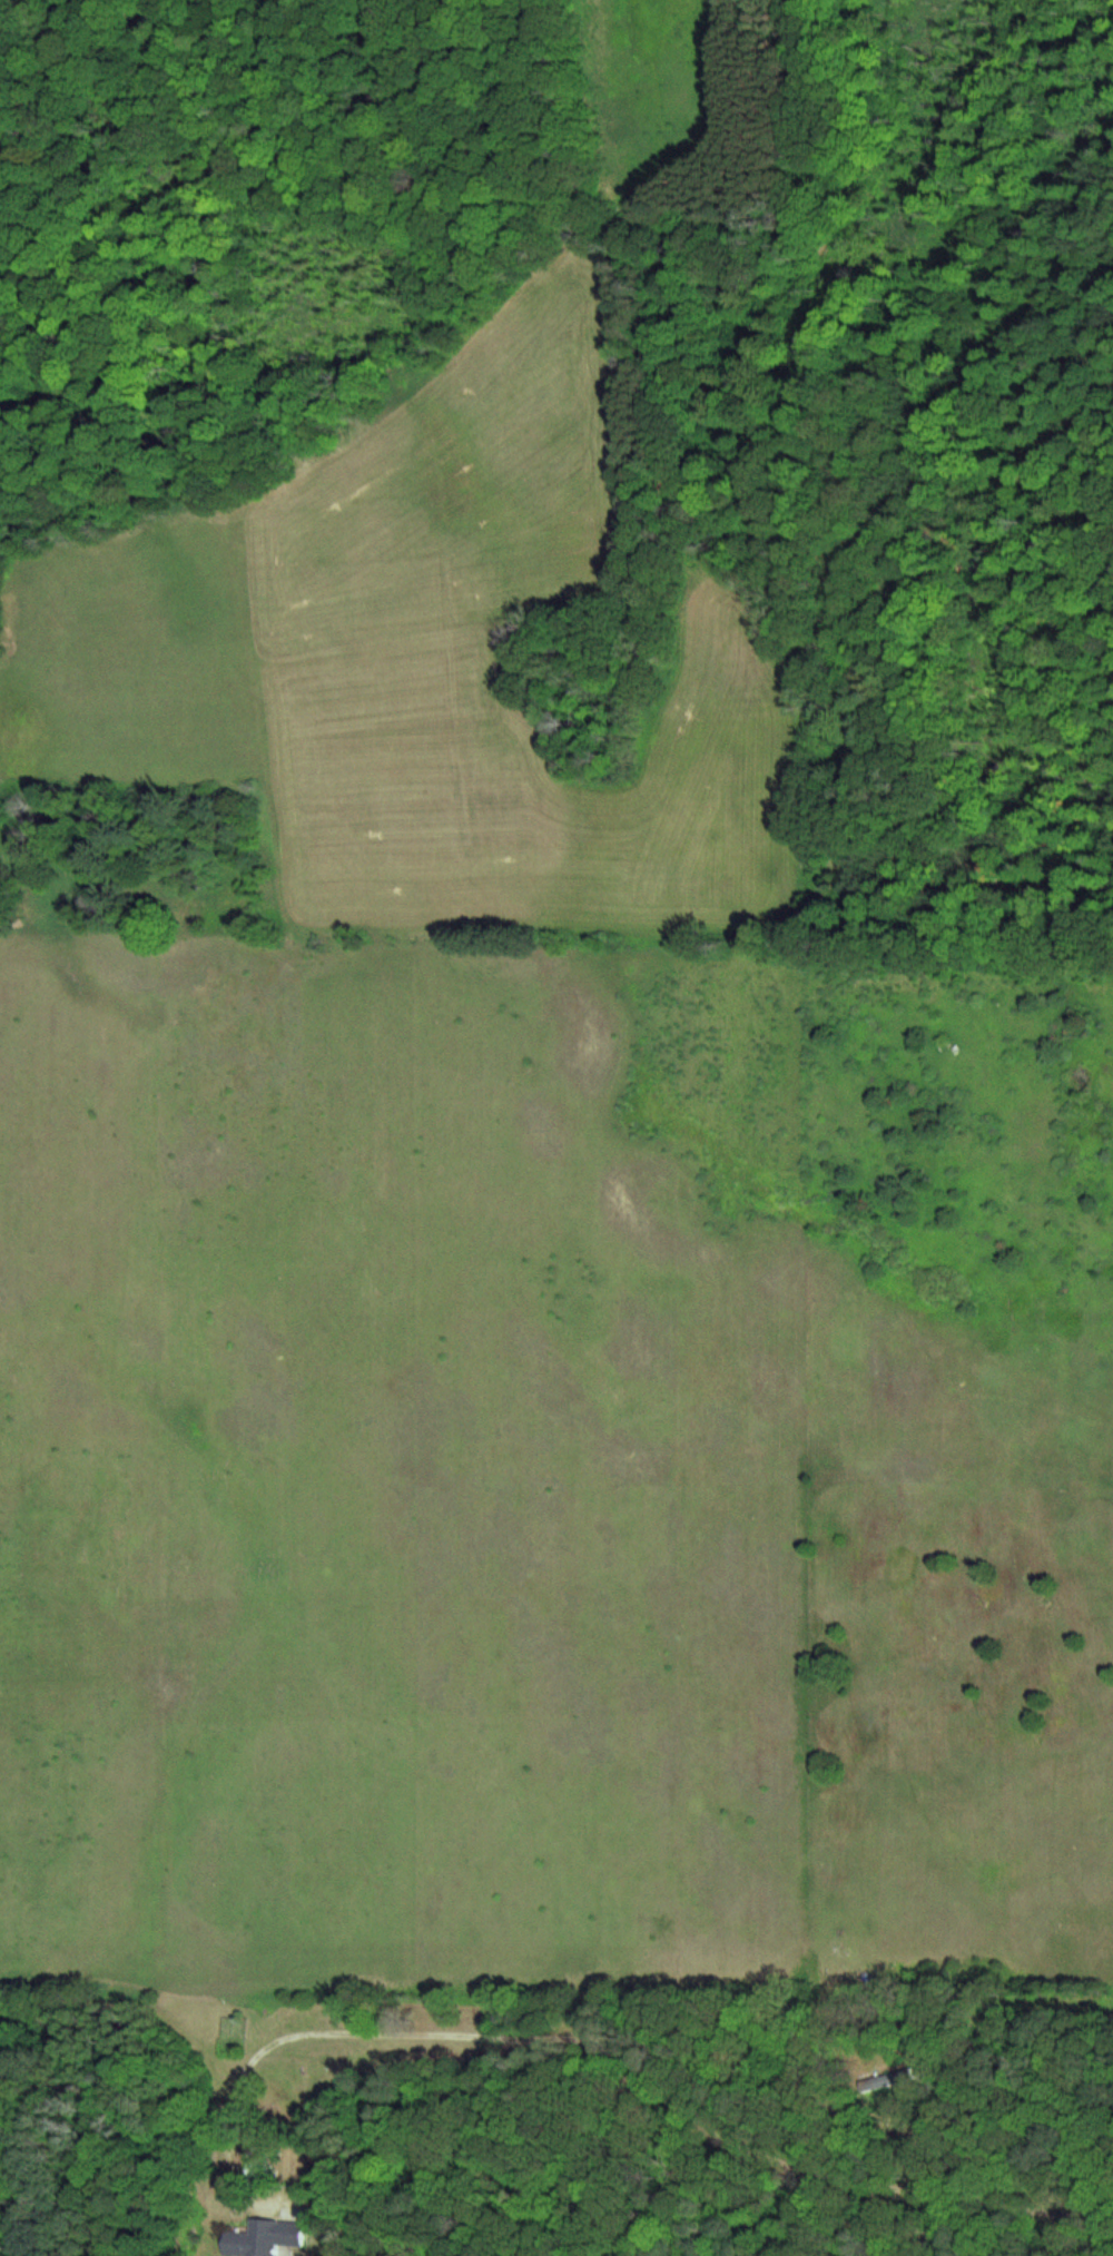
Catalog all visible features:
road: (940, 2216)
building: (265, 2238)

